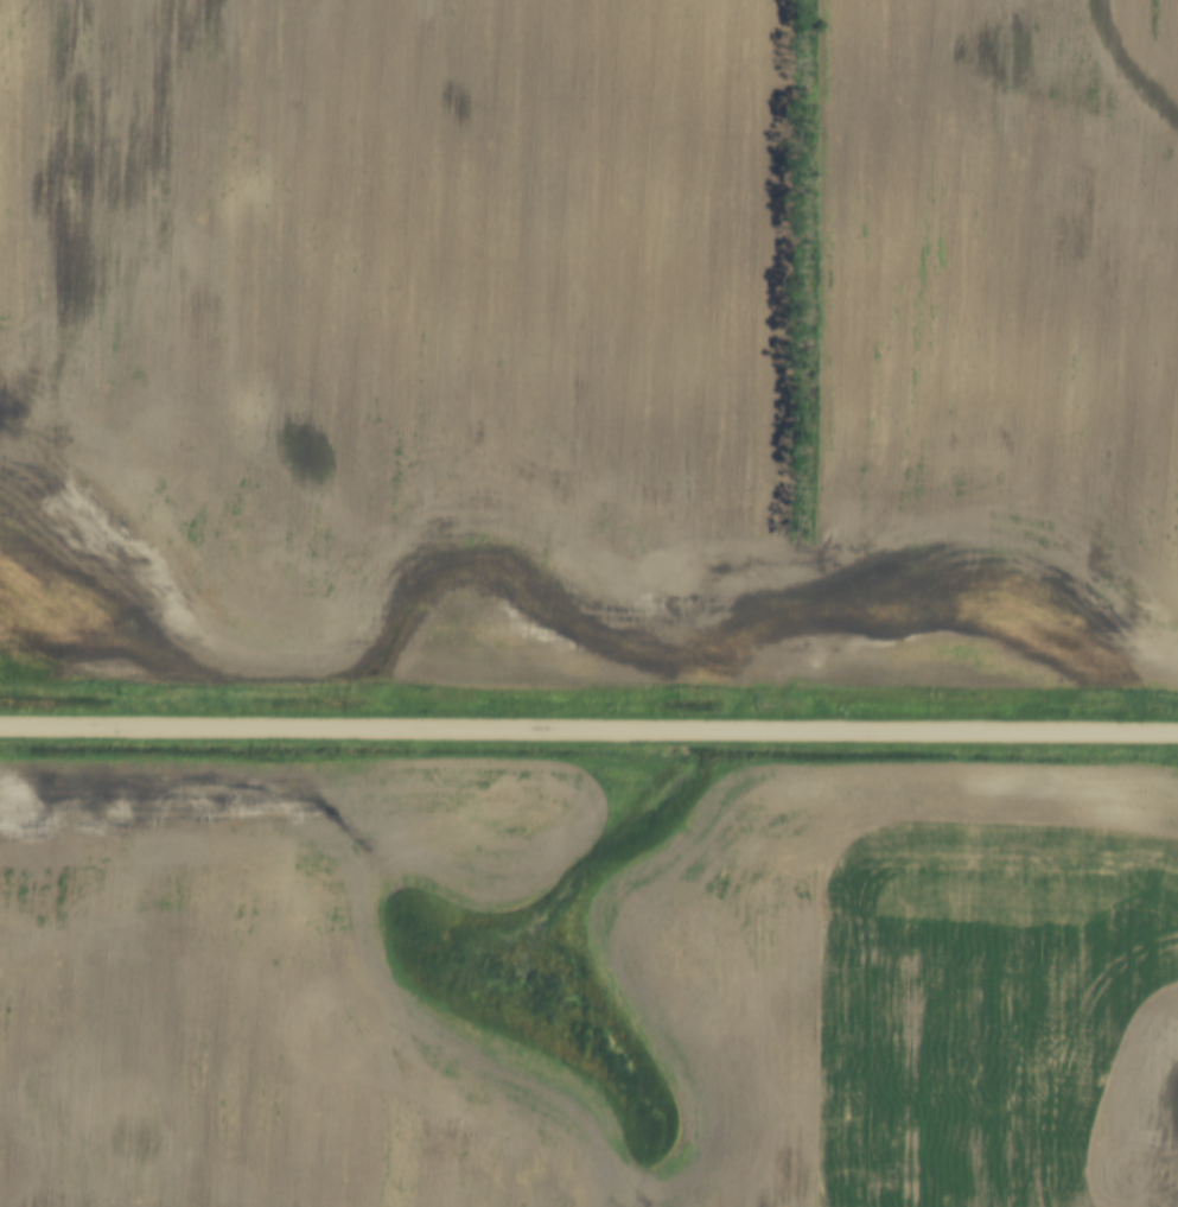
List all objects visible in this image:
road: (588, 730)

